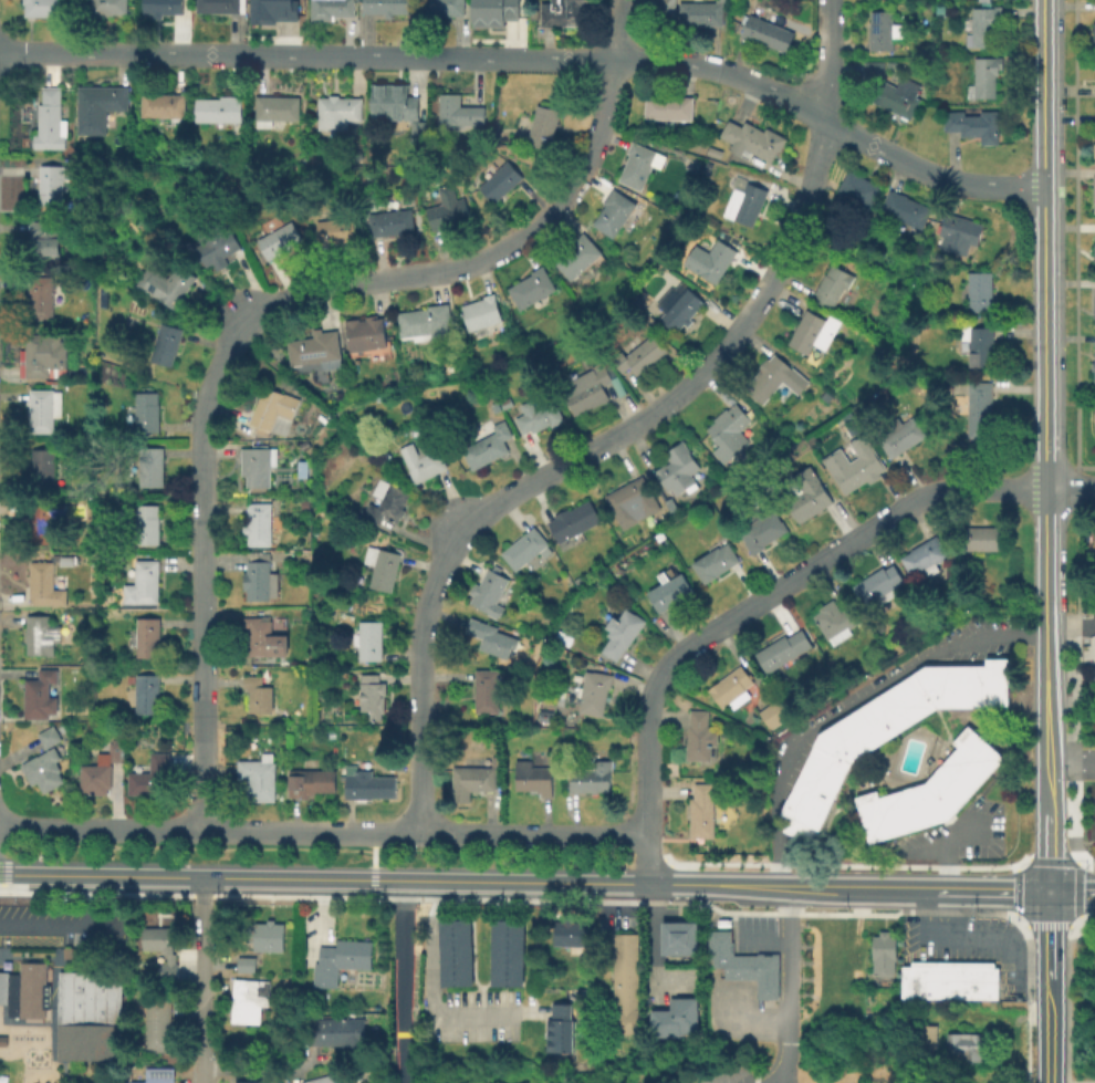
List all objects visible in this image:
building: (221, 6)
building: (107, 7)
building: (163, 7)
building: (386, 7)
building: (444, 7)
building: (42, 8)
building: (664, 8)
building: (331, 9)
building: (500, 9)
building: (940, 9)
building: (273, 11)
building: (700, 12)
building: (561, 13)
building: (982, 25)
road: (618, 30)
building: (882, 30)
building: (762, 31)
building: (1093, 33)
road: (535, 59)
road: (831, 60)
building: (876, 70)
building: (985, 77)
road: (1044, 94)
building: (901, 96)
building: (392, 102)
building: (100, 106)
building: (166, 106)
building: (670, 106)
building: (275, 108)
building: (221, 111)
building: (460, 111)
building: (336, 112)
building: (51, 121)
building: (974, 125)
building: (545, 126)
building: (751, 139)
building: (1093, 148)
building: (712, 152)
building: (638, 164)
building: (502, 180)
building: (53, 181)
building: (859, 189)
building: (1093, 192)
building: (743, 200)
building: (449, 208)
building: (906, 208)
building: (617, 211)
building: (393, 221)
building: (337, 229)
building: (959, 233)
building: (46, 236)
building: (280, 238)
road: (1075, 242)
building: (1093, 248)
building: (217, 250)
building: (580, 256)
building: (710, 259)
building: (165, 284)
building: (832, 284)
building: (534, 287)
building: (979, 291)
building: (42, 296)
building: (1093, 304)
building: (678, 305)
building: (483, 311)
building: (426, 322)
road: (243, 330)
building: (815, 330)
building: (367, 333)
road: (1044, 339)
building: (167, 343)
building: (980, 343)
building: (315, 347)
building: (638, 352)
building: (40, 354)
building: (1092, 363)
building: (774, 377)
building: (586, 388)
building: (507, 402)
building: (496, 406)
building: (43, 408)
building: (143, 410)
building: (274, 410)
building: (540, 413)
building: (978, 413)
building: (1093, 421)
building: (726, 431)
building: (903, 435)
building: (488, 445)
road: (572, 458)
building: (420, 460)
building: (859, 464)
building: (259, 465)
building: (152, 466)
building: (43, 467)
building: (679, 470)
road: (1070, 489)
road: (1073, 490)
building: (807, 493)
building: (628, 494)
building: (86, 501)
building: (387, 502)
building: (44, 520)
building: (573, 520)
building: (148, 523)
building: (257, 523)
building: (762, 530)
building: (980, 539)
building: (525, 548)
building: (926, 556)
building: (716, 560)
building: (67, 561)
building: (382, 566)
building: (262, 579)
building: (144, 582)
building: (879, 584)
building: (45, 585)
building: (489, 590)
building: (670, 591)
road: (750, 606)
building: (837, 619)
road: (1070, 624)
building: (623, 632)
building: (263, 634)
building: (42, 635)
building: (148, 636)
building: (491, 637)
building: (371, 639)
building: (783, 649)
road: (1045, 652)
building: (1094, 655)
road: (1085, 678)
road: (1076, 681)
building: (732, 687)
building: (487, 690)
building: (595, 691)
building: (147, 693)
building: (259, 694)
building: (373, 694)
building: (41, 695)
road: (867, 696)
building: (774, 712)
building: (547, 716)
building: (62, 727)
building: (885, 730)
building: (49, 736)
building: (700, 736)
road: (899, 739)
street lamp: (1089, 744)
road: (1071, 763)
parking lot: (1087, 767)
building: (44, 769)
building: (97, 770)
road: (917, 770)
building: (150, 775)
building: (259, 777)
building: (533, 777)
building: (590, 777)
building: (476, 778)
building: (312, 781)
building: (365, 782)
building: (929, 791)
building: (703, 808)
road: (824, 821)
road: (324, 830)
road: (804, 836)
road: (786, 842)
road: (865, 847)
road: (946, 847)
road: (929, 851)
road: (1046, 852)
road: (372, 855)
road: (657, 858)
road: (1078, 858)
road: (1047, 860)
road: (668, 863)
road: (842, 864)
road: (1014, 866)
road: (3, 867)
road: (774, 867)
road: (372, 881)
road: (325, 882)
road: (671, 887)
road: (818, 889)
road: (958, 891)
road: (1009, 891)
traffic signals: (1047, 891)
road: (1071, 891)
road: (1077, 894)
road: (1013, 895)
road: (86, 903)
road: (1015, 923)
road: (1041, 925)
road: (43, 926)
road: (1074, 926)
road: (104, 927)
road: (1078, 929)
road: (1088, 929)
road: (744, 930)
building: (567, 931)
building: (268, 935)
road: (1047, 936)
road: (977, 938)
building: (675, 939)
building: (624, 946)
building: (453, 949)
building: (505, 949)
building: (716, 949)
building: (163, 950)
road: (649, 951)
building: (880, 952)
building: (342, 959)
building: (247, 964)
building: (744, 969)
road: (789, 969)
building: (624, 970)
building: (728, 970)
building: (763, 978)
building: (947, 979)
building: (918, 980)
building: (978, 980)
road: (204, 981)
road: (403, 983)
building: (24, 990)
road: (427, 990)
building: (624, 996)
building: (250, 999)
street lamp: (1030, 1000)
park: (1081, 1001)
building: (304, 1010)
building: (88, 1014)
road: (747, 1017)
building: (675, 1018)
building: (624, 1021)
building: (158, 1024)
building: (560, 1028)
building: (337, 1031)
road: (1046, 1032)
building: (924, 1039)
building: (3, 1040)
building: (962, 1048)
road: (778, 1065)
road: (269, 1069)
building: (154, 1075)
building: (327, 1079)
road: (770, 1081)
building: (249, 1082)
road: (1062, 1082)

